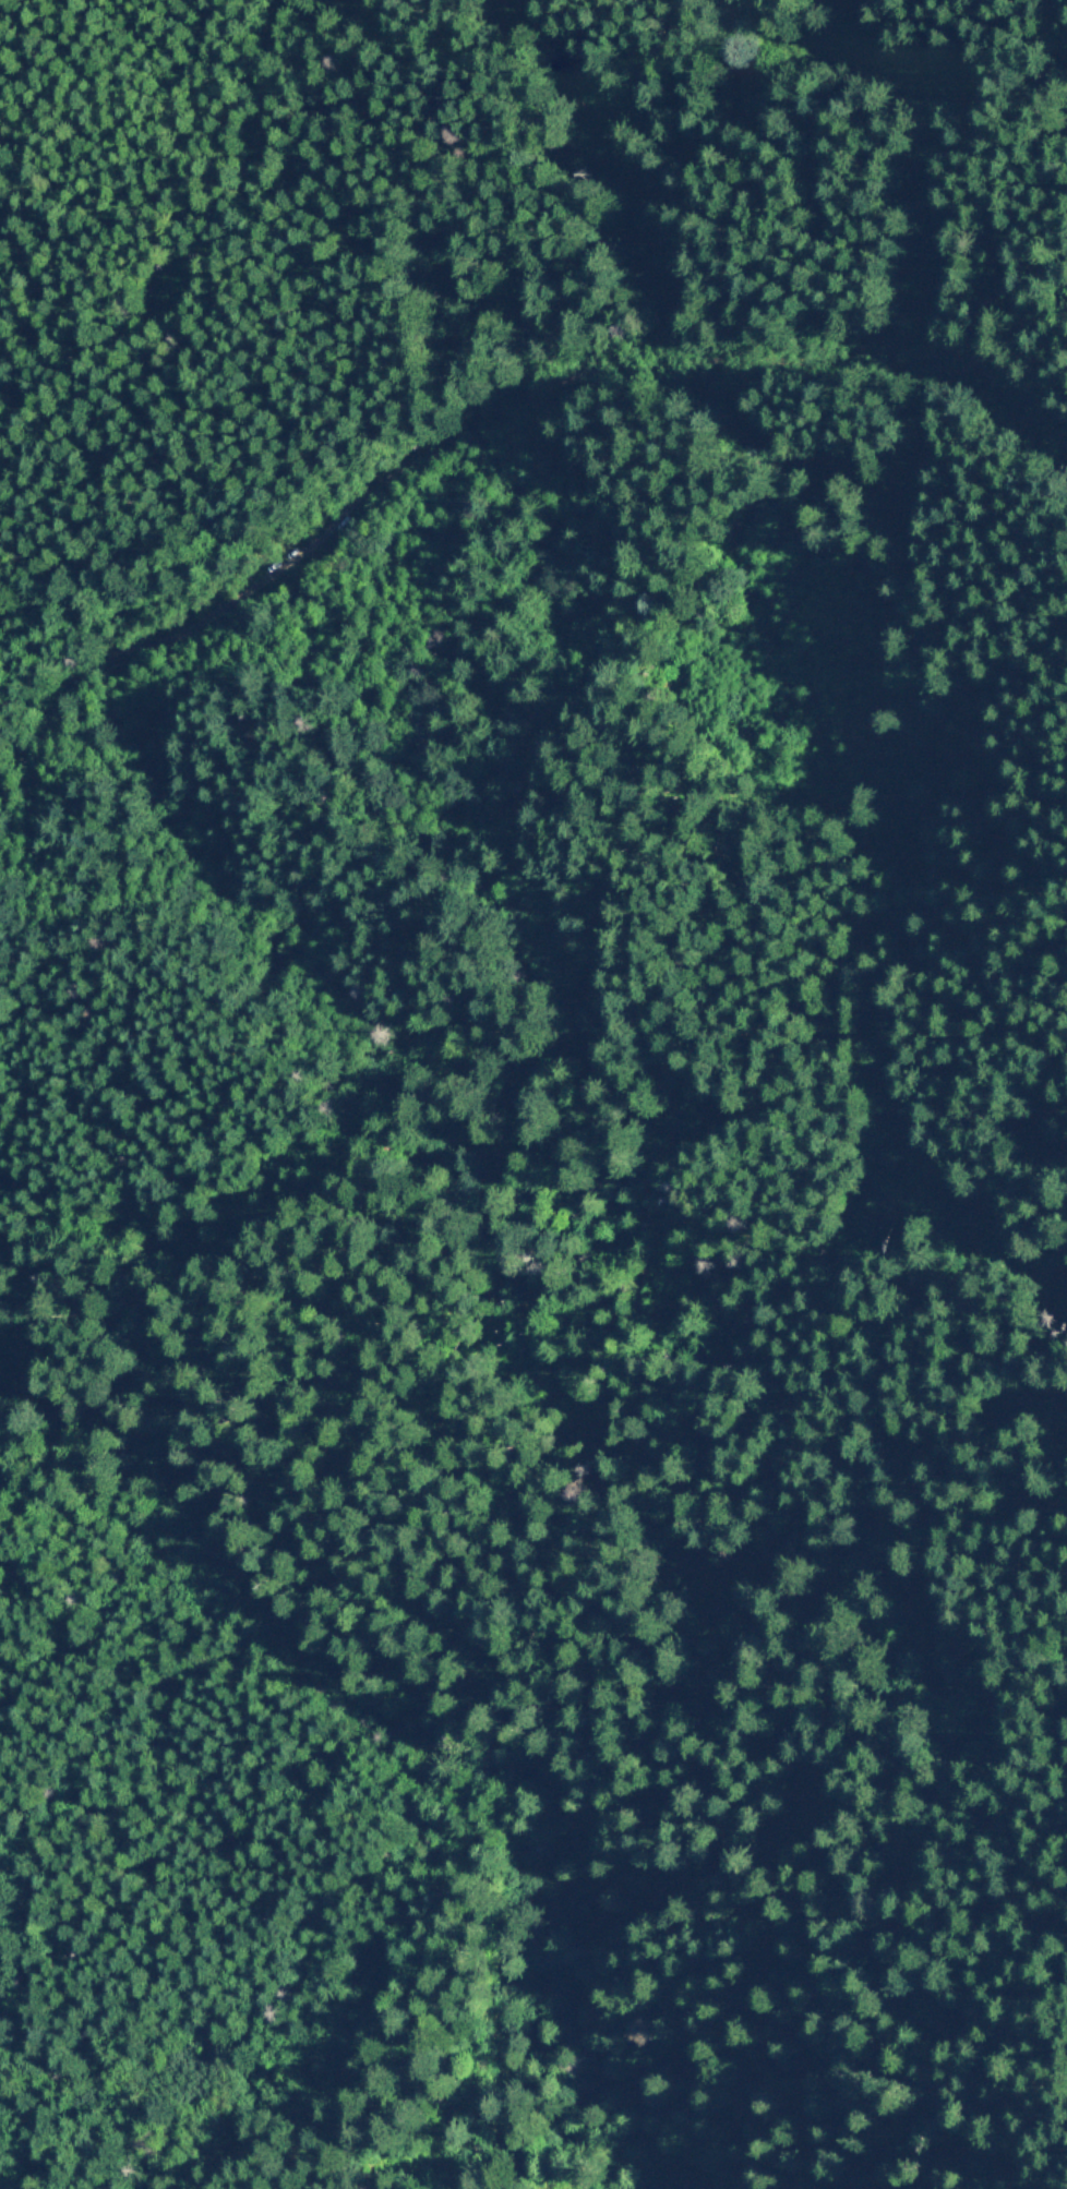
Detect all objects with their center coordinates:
road: (495, 408)

